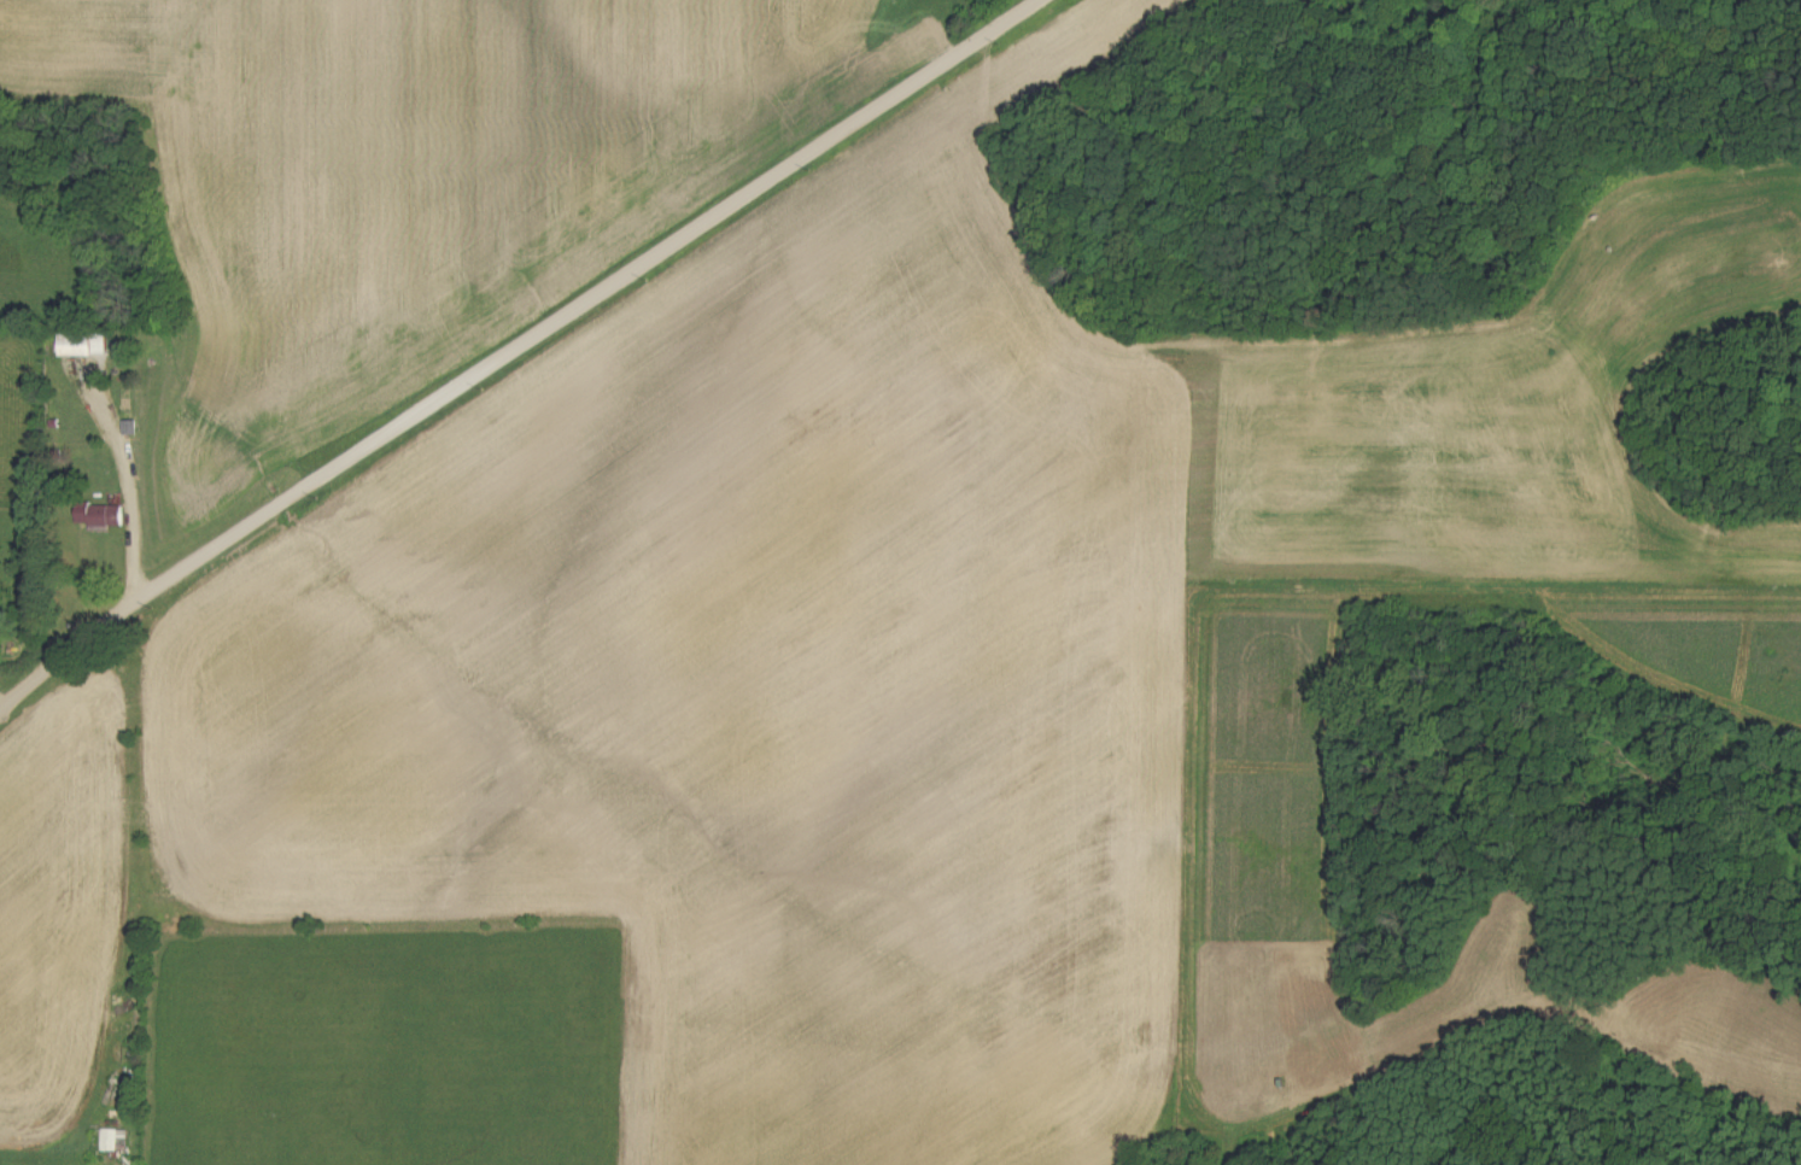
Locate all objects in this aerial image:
building: (87, 345)
road: (513, 347)
building: (101, 517)
building: (115, 1140)

